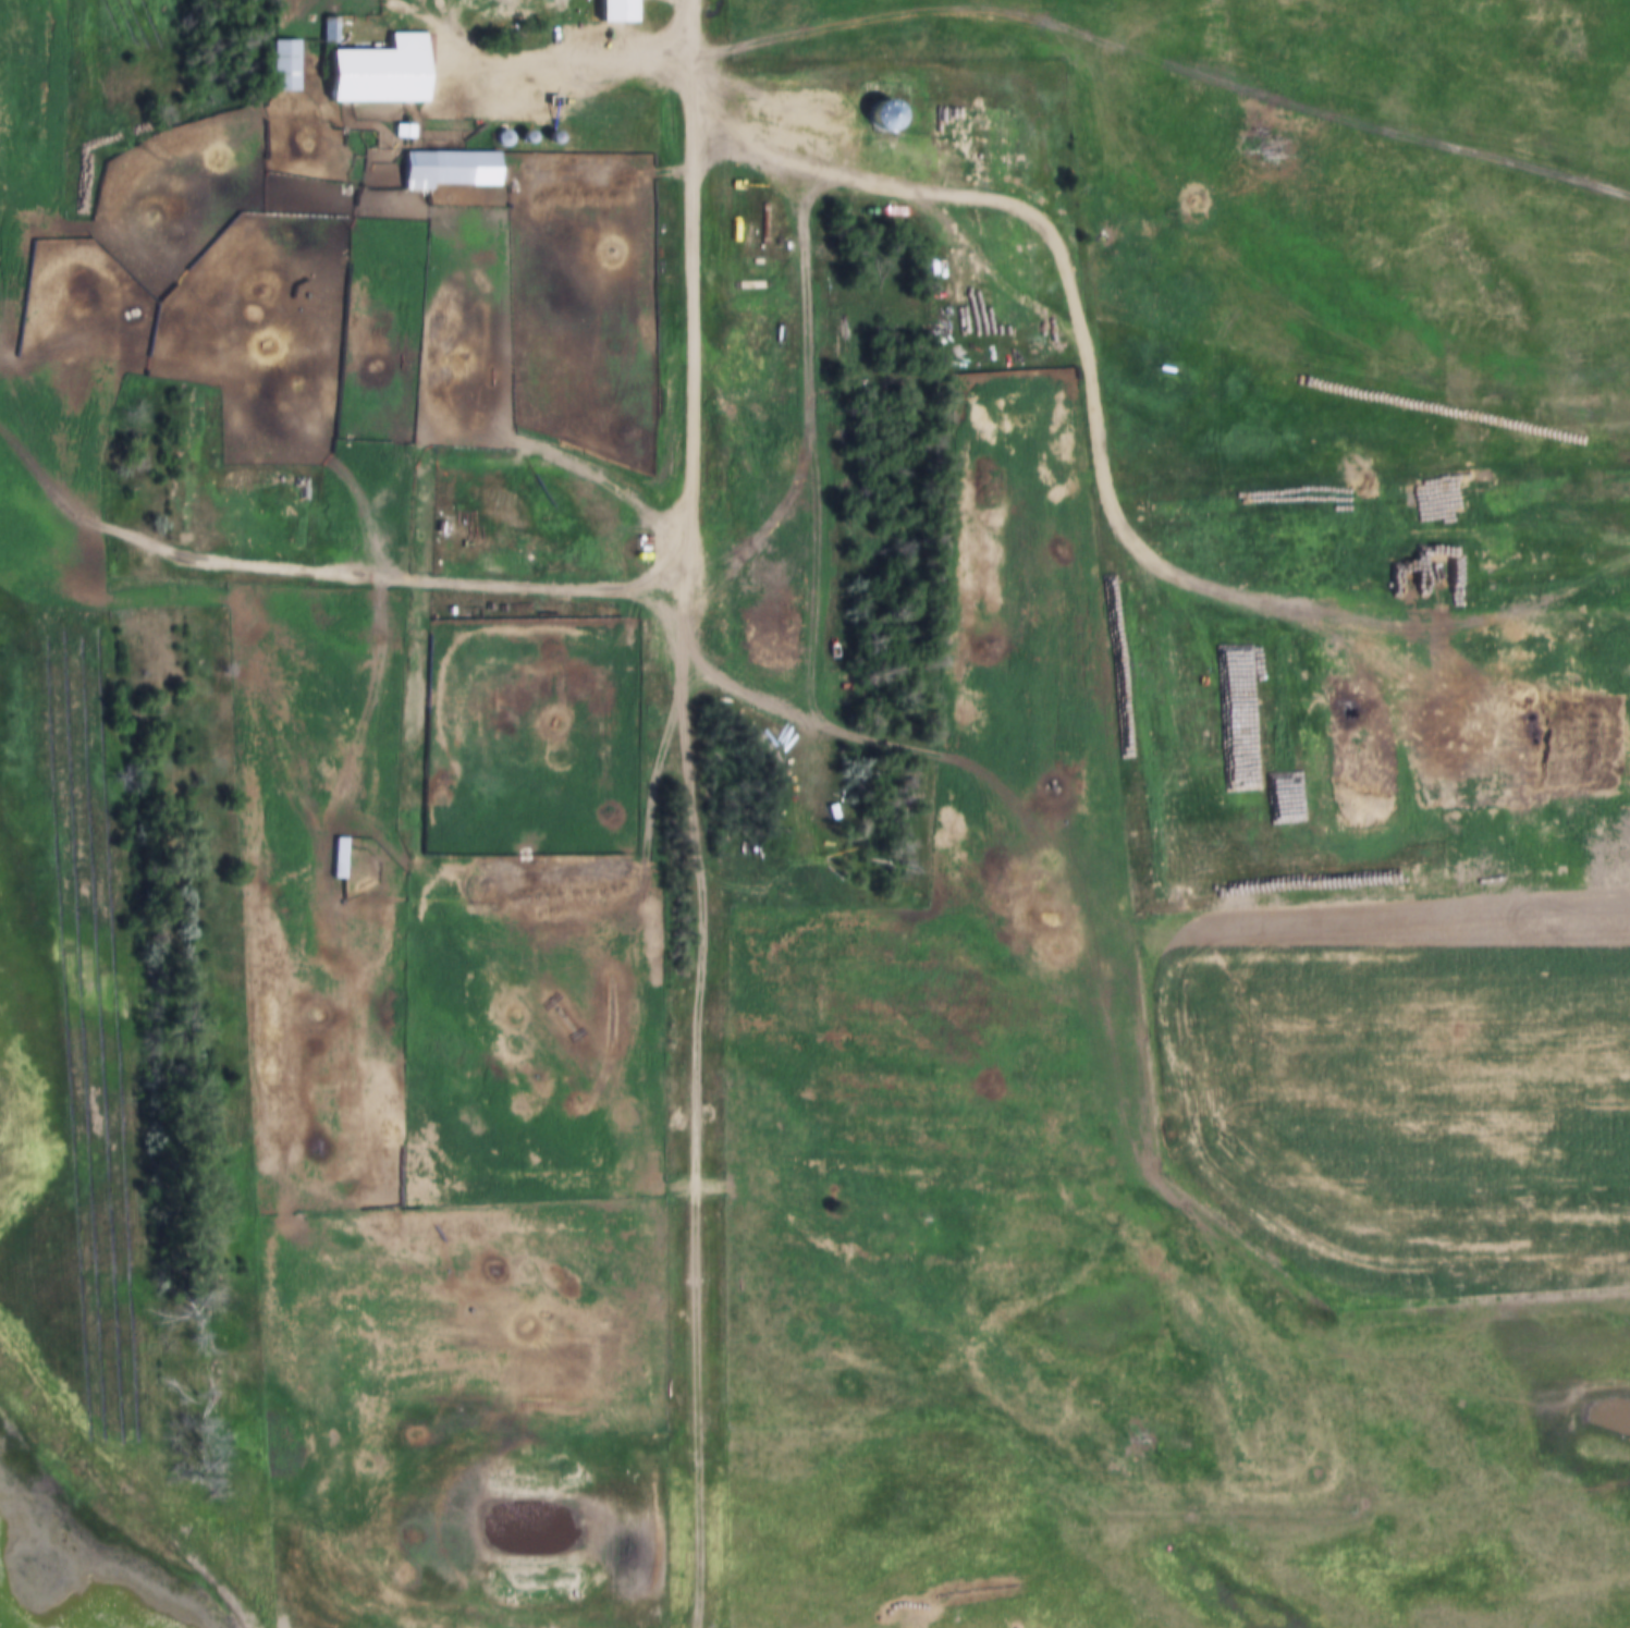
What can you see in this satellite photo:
building: (505, 9)
building: (621, 11)
building: (331, 30)
road: (571, 62)
building: (286, 65)
building: (404, 131)
road: (160, 151)
building: (451, 166)
road: (1054, 210)
road: (695, 290)
building: (539, 656)
road: (696, 1104)

